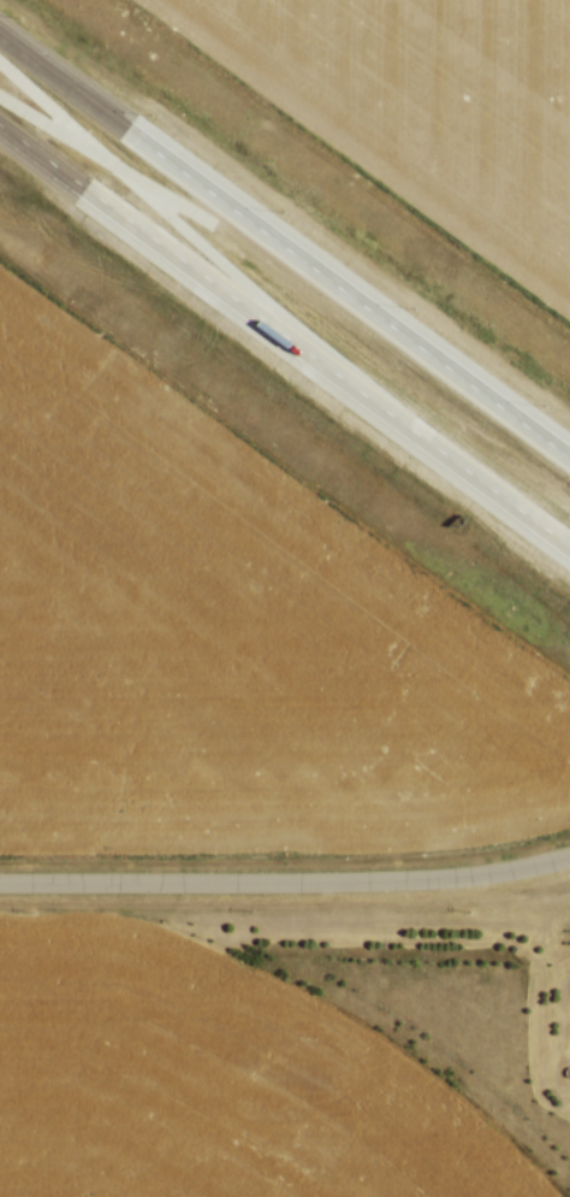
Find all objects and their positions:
crop: (418, 110)
road: (285, 238)
road: (285, 334)
crop: (227, 651)
road: (285, 886)
crop: (203, 1083)

